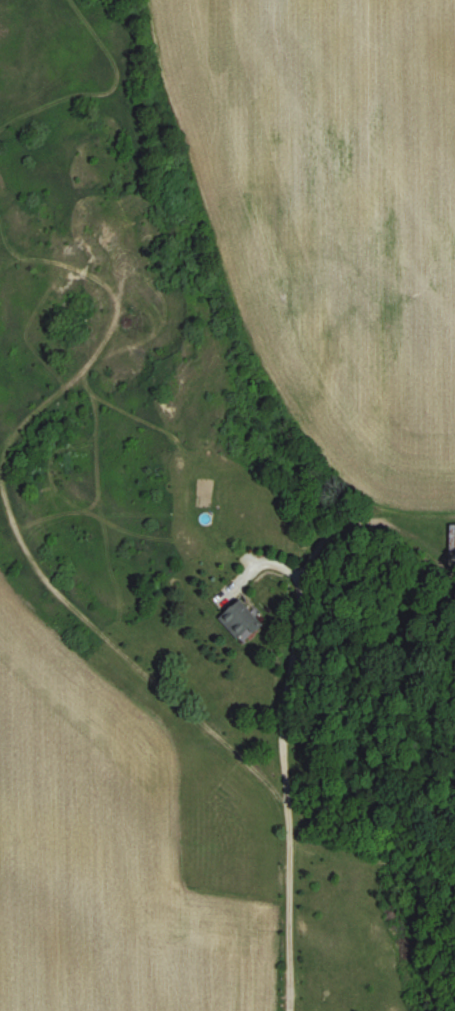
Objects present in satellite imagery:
building: (452, 535)
building: (241, 618)
road: (282, 755)

